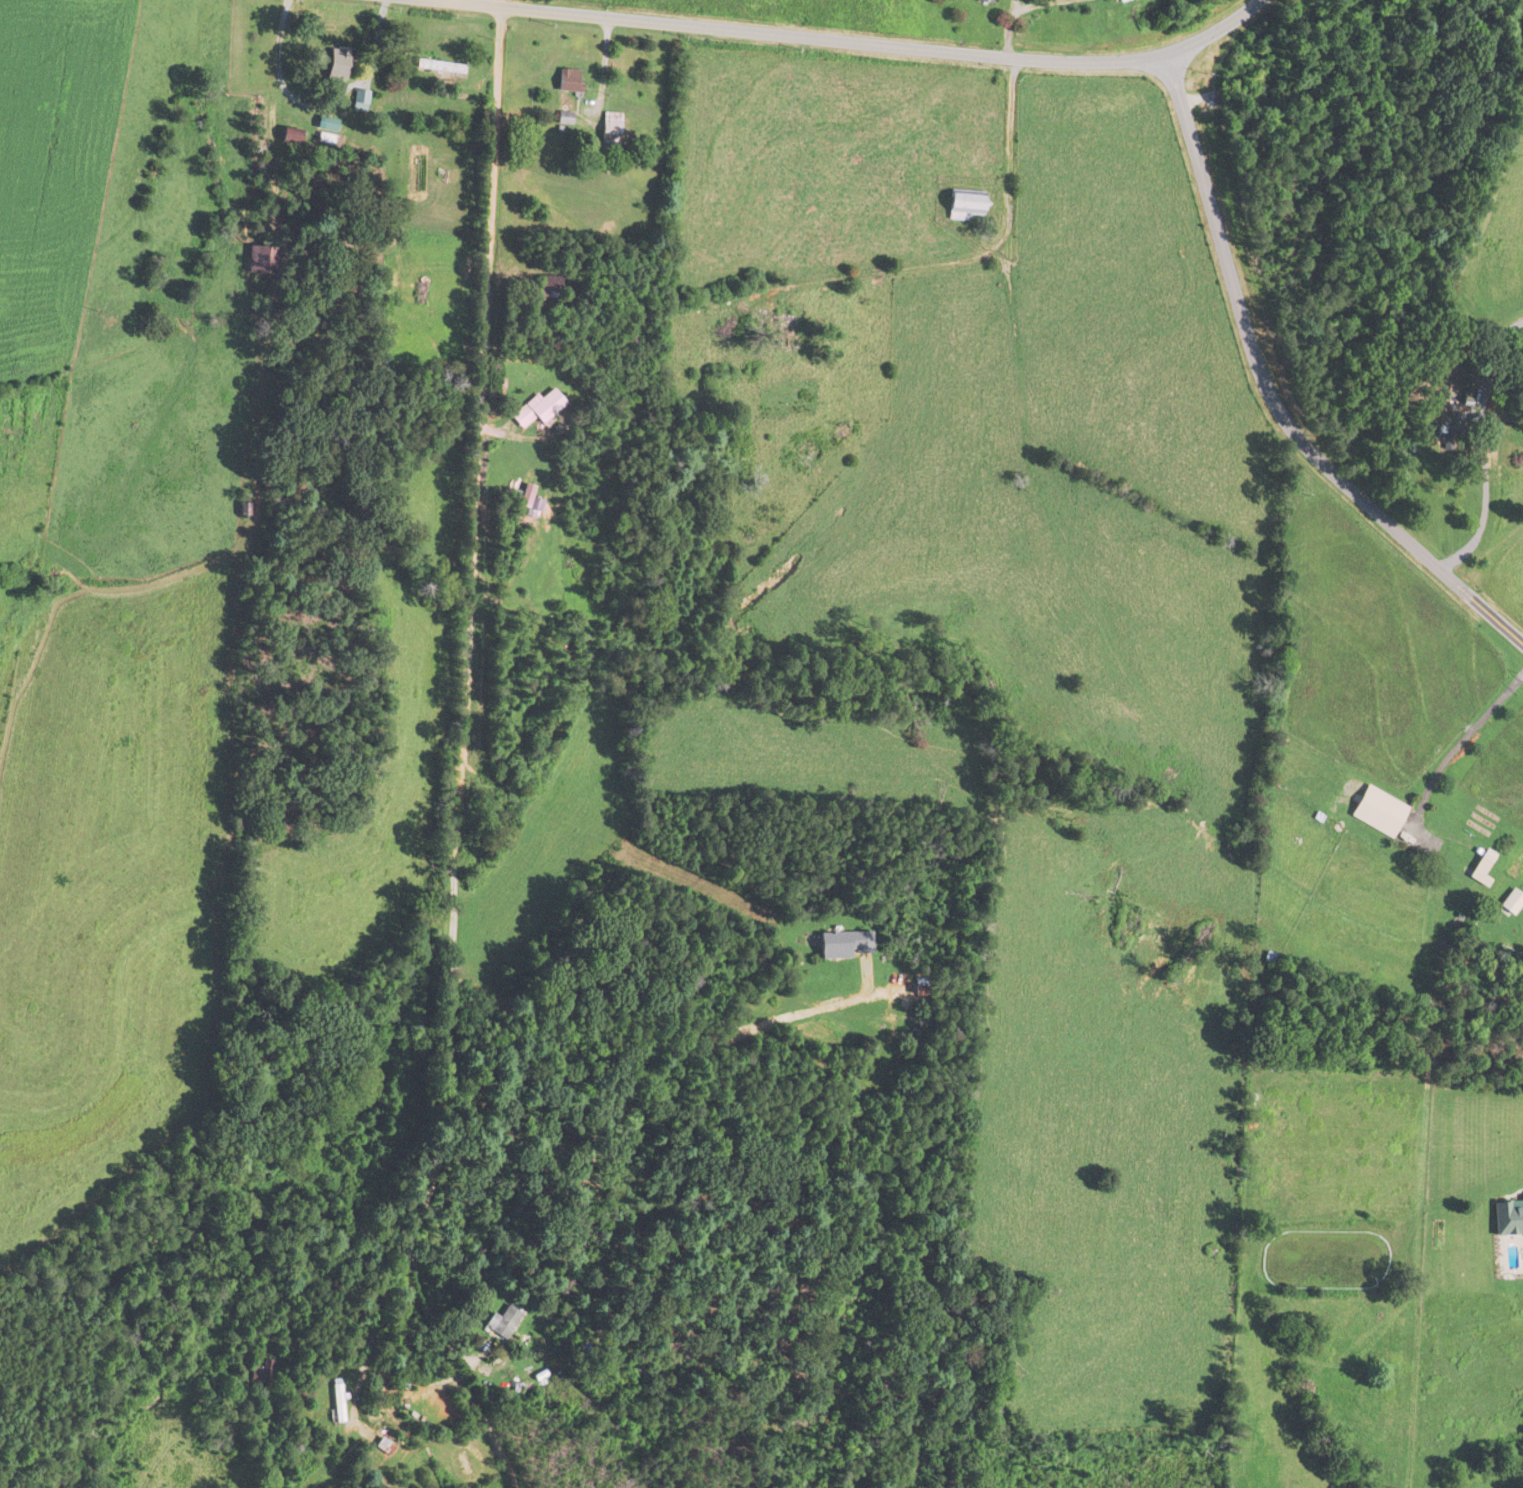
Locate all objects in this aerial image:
building: (983, 1)
road: (501, 3)
road: (857, 41)
road: (599, 59)
building: (336, 62)
building: (441, 66)
building: (567, 80)
building: (562, 117)
building: (608, 133)
building: (290, 136)
building: (964, 206)
road: (969, 248)
building: (260, 260)
building: (546, 287)
building: (780, 330)
road: (1266, 378)
building: (535, 409)
building: (838, 433)
building: (802, 456)
road: (1481, 513)
road: (1510, 633)
road: (466, 710)
road: (1459, 741)
building: (1377, 812)
building: (1510, 901)
building: (839, 943)
building: (916, 988)
road: (695, 1007)
road: (663, 1174)
building: (500, 1322)
road: (453, 1367)
building: (259, 1374)
building: (336, 1403)
building: (382, 1446)
building: (460, 1463)

